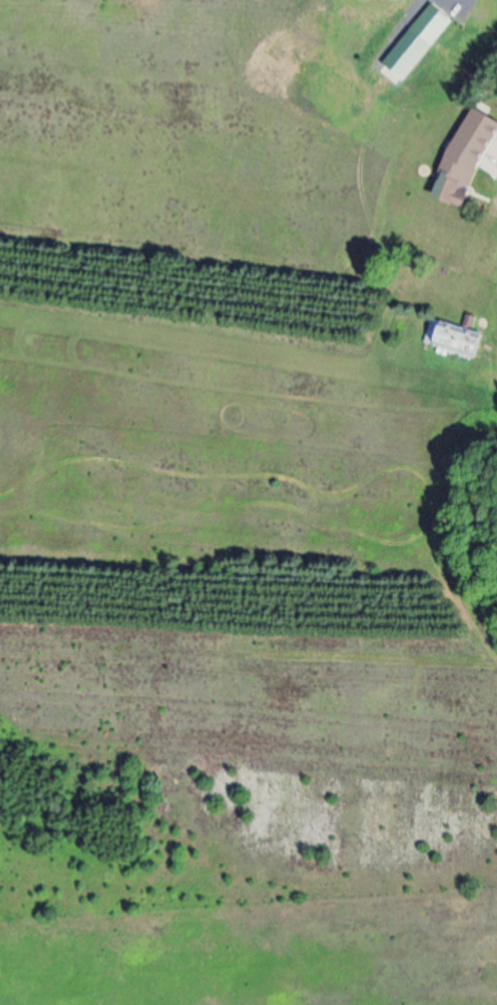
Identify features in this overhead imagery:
building: (423, 42)
building: (456, 190)
building: (458, 340)

